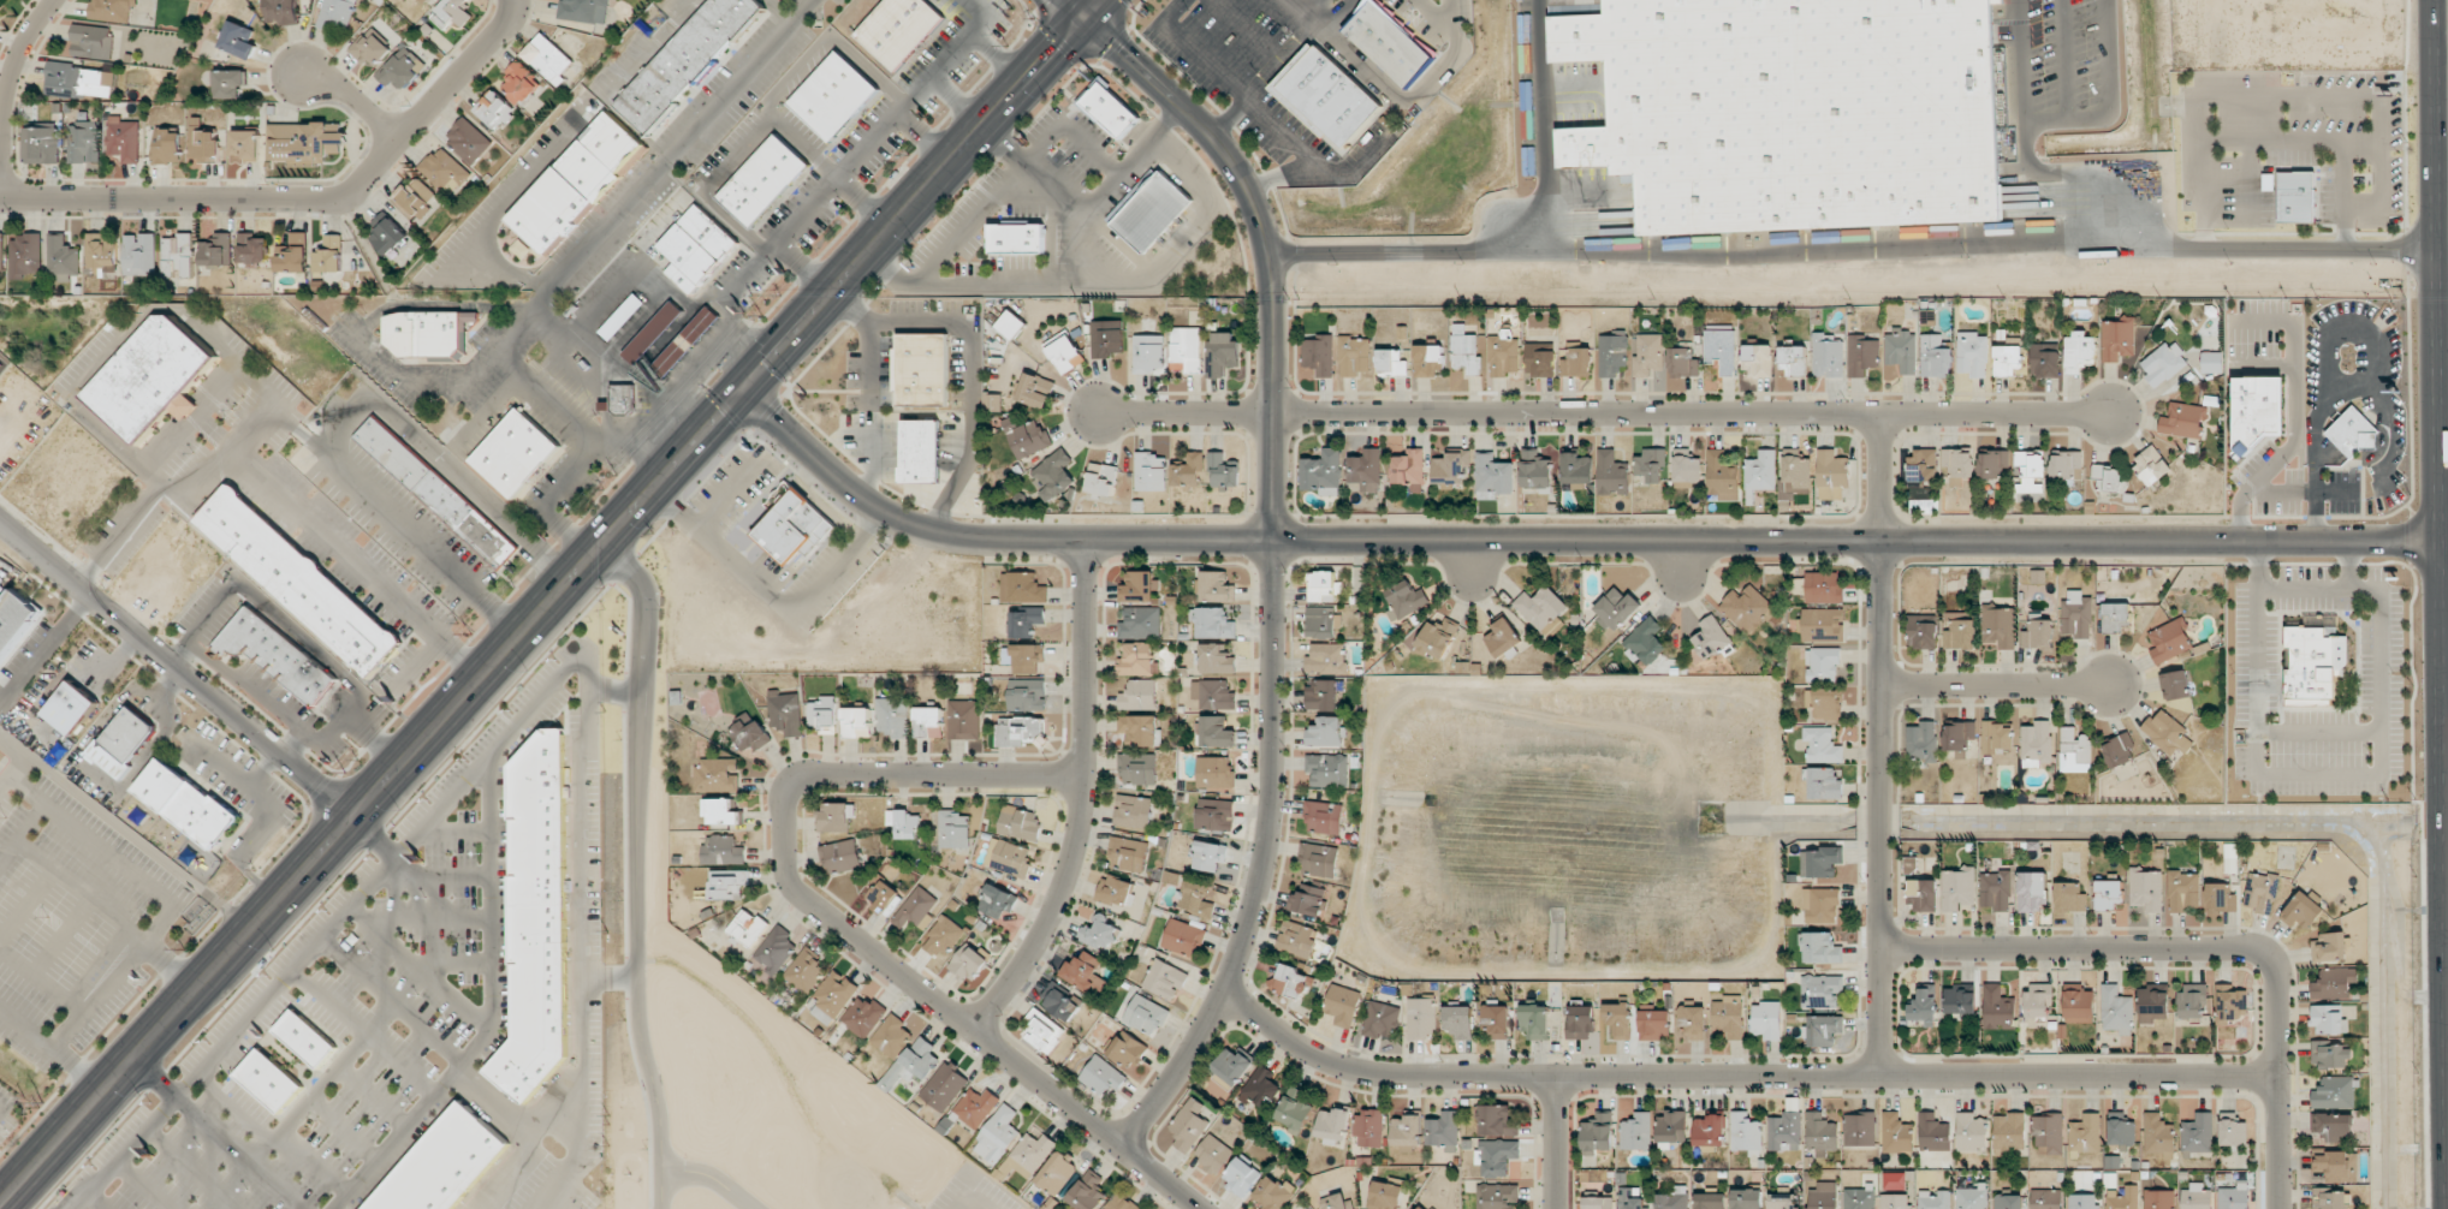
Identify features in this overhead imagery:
building: (424, 1)
road: (800, 4)
road: (2061, 6)
road: (2105, 6)
building: (0, 7)
road: (1074, 7)
road: (1088, 7)
road: (2019, 7)
building: (113, 10)
building: (280, 11)
building: (584, 11)
road: (778, 11)
road: (2084, 12)
building: (452, 13)
building: (337, 14)
traffic signals: (1082, 14)
road: (2040, 14)
building: (898, 29)
building: (239, 40)
building: (93, 41)
building: (1389, 42)
road: (819, 43)
road: (984, 44)
power tower: (1008, 46)
road: (653, 47)
building: (370, 48)
building: (547, 56)
building: (688, 61)
building: (402, 69)
road: (2022, 69)
road: (939, 78)
building: (78, 81)
building: (521, 82)
building: (230, 83)
road: (6, 93)
building: (834, 95)
building: (1327, 96)
road: (355, 101)
road: (2108, 105)
building: (1109, 108)
building: (494, 111)
building: (1793, 111)
road: (1544, 126)
building: (124, 139)
building: (469, 139)
building: (84, 142)
building: (303, 142)
building: (202, 143)
building: (42, 145)
building: (244, 145)
building: (168, 147)
power tower: (909, 154)
road: (824, 168)
building: (445, 169)
road: (2078, 173)
road: (842, 175)
building: (763, 179)
building: (578, 183)
building: (417, 196)
road: (630, 196)
building: (2297, 196)
road: (303, 198)
building: (1151, 209)
road: (492, 214)
road: (733, 222)
road: (659, 227)
building: (1990, 231)
building: (387, 233)
building: (1017, 237)
road: (1267, 242)
building: (696, 248)
building: (252, 249)
building: (216, 250)
road: (1852, 250)
building: (101, 252)
building: (139, 254)
building: (293, 254)
building: (1, 255)
building: (26, 255)
building: (178, 255)
building: (329, 255)
building: (63, 258)
road: (801, 263)
road: (642, 264)
road: (412, 305)
power tower: (762, 314)
building: (622, 316)
building: (1011, 324)
road: (731, 327)
building: (428, 332)
building: (653, 332)
road: (2435, 334)
building: (1106, 338)
building: (2117, 338)
building: (687, 341)
road: (2328, 344)
road: (596, 346)
building: (1187, 347)
building: (1466, 349)
building: (1722, 350)
building: (1902, 350)
building: (2080, 351)
building: (1064, 352)
building: (1149, 353)
building: (1223, 353)
building: (1612, 353)
building: (1972, 353)
building: (1319, 355)
building: (1503, 355)
building: (1648, 355)
building: (1862, 355)
building: (1355, 356)
building: (1828, 356)
building: (1935, 357)
building: (1540, 359)
building: (2045, 359)
building: (1428, 361)
building: (1758, 361)
building: (1793, 361)
building: (2008, 361)
building: (1392, 362)
building: (1576, 362)
building: (2211, 362)
building: (1683, 363)
building: (2163, 363)
building: (922, 369)
road: (417, 375)
building: (153, 377)
traffic signals: (743, 391)
building: (1035, 391)
road: (666, 398)
building: (623, 399)
building: (993, 403)
road: (487, 411)
building: (2257, 411)
road: (2293, 412)
road: (1604, 413)
building: (2183, 421)
building: (2353, 433)
road: (2393, 433)
building: (1026, 437)
road: (630, 441)
road: (580, 448)
building: (921, 451)
building: (515, 453)
building: (1992, 463)
building: (1651, 464)
building: (1924, 464)
building: (2151, 464)
building: (1408, 466)
building: (1450, 467)
building: (1576, 467)
building: (1366, 469)
building: (1686, 469)
building: (1535, 470)
building: (1763, 470)
building: (2031, 470)
building: (1189, 471)
building: (1151, 472)
building: (1323, 472)
power tower: (616, 474)
building: (1611, 474)
building: (1832, 475)
building: (1054, 476)
building: (1796, 476)
building: (1492, 477)
building: (1723, 477)
building: (2109, 477)
building: (1103, 478)
road: (2303, 492)
building: (436, 494)
building: (779, 496)
building: (795, 528)
road: (1565, 541)
road: (2348, 564)
building: (298, 580)
building: (1139, 586)
building: (1217, 586)
building: (1324, 586)
building: (1824, 586)
power tower: (513, 588)
building: (1023, 588)
building: (1406, 600)
building: (1540, 607)
building: (1616, 609)
building: (1747, 609)
road: (542, 611)
building: (2076, 614)
building: (2116, 618)
building: (1026, 621)
building: (1321, 621)
building: (16, 623)
building: (1141, 623)
building: (1214, 624)
building: (1823, 625)
building: (1998, 625)
power tower: (471, 631)
building: (1921, 631)
building: (1960, 631)
building: (2037, 635)
building: (1438, 636)
building: (1503, 637)
building: (1711, 638)
building: (1646, 641)
building: (2169, 641)
building: (280, 656)
building: (1027, 657)
building: (1214, 659)
building: (1326, 659)
building: (1823, 663)
building: (2313, 663)
road: (176, 673)
building: (2176, 685)
road: (1998, 686)
road: (611, 693)
building: (1213, 693)
building: (1027, 695)
building: (1140, 695)
building: (1323, 695)
road: (2444, 697)
building: (1824, 702)
building: (72, 707)
building: (785, 713)
building: (824, 714)
building: (893, 716)
building: (927, 720)
building: (964, 720)
building: (856, 722)
building: (1141, 729)
road: (2318, 729)
building: (1020, 731)
building: (1217, 732)
building: (1326, 732)
building: (749, 734)
building: (2168, 734)
building: (1997, 737)
building: (1959, 738)
building: (123, 742)
building: (1923, 743)
building: (2037, 743)
building: (1823, 745)
road: (1879, 745)
building: (2119, 750)
building: (2075, 751)
road: (637, 754)
building: (1139, 768)
building: (1327, 769)
power tower: (345, 772)
road: (581, 772)
building: (1214, 773)
building: (717, 775)
road: (2354, 776)
building: (1825, 784)
road: (1082, 799)
building: (186, 803)
building: (721, 811)
building: (1134, 811)
road: (439, 812)
building: (1214, 814)
building: (836, 816)
building: (1324, 816)
building: (1020, 822)
road: (129, 823)
building: (905, 823)
building: (955, 829)
road: (374, 839)
building: (723, 850)
building: (1129, 854)
building: (842, 856)
building: (1208, 856)
building: (1011, 858)
building: (2230, 858)
building: (1318, 859)
road: (1264, 862)
building: (1820, 862)
building: (726, 885)
building: (1957, 888)
building: (2146, 889)
building: (1116, 891)
building: (1996, 891)
building: (2032, 891)
building: (2183, 891)
building: (2262, 892)
building: (2109, 894)
building: (1923, 895)
building: (884, 897)
building: (2069, 897)
building: (1196, 898)
building: (2220, 898)
building: (998, 900)
building: (1308, 900)
building: (1822, 905)
building: (916, 909)
building: (2301, 911)
building: (537, 919)
road: (840, 925)
building: (747, 928)
building: (1100, 933)
building: (943, 937)
building: (1183, 937)
building: (1297, 939)
road: (2442, 939)
building: (2330, 947)
power tower: (184, 948)
building: (1820, 948)
road: (2203, 949)
building: (776, 951)
building: (969, 961)
building: (806, 970)
building: (1085, 971)
building: (1164, 979)
building: (1294, 982)
building: (2334, 983)
building: (833, 996)
park: (719, 999)
building: (2038, 1000)
building: (2193, 1001)
building: (2153, 1002)
building: (1063, 1003)
building: (1961, 1003)
building: (1343, 1005)
building: (1924, 1006)
building: (2079, 1006)
building: (2232, 1006)
building: (1998, 1008)
building: (2116, 1010)
building: (1146, 1014)
building: (863, 1016)
building: (1730, 1016)
building: (1421, 1018)
building: (1382, 1019)
building: (1618, 1019)
building: (2328, 1019)
building: (1767, 1020)
building: (1458, 1022)
building: (1495, 1022)
building: (1535, 1022)
building: (1580, 1022)
building: (1692, 1023)
building: (1654, 1024)
building: (1044, 1030)
building: (1824, 1030)
building: (891, 1036)
building: (308, 1037)
building: (1128, 1049)
building: (2330, 1055)
building: (913, 1062)
building: (1232, 1066)
road: (155, 1076)
building: (1103, 1076)
road: (1741, 1078)
building: (269, 1079)
building: (945, 1086)
building: (1261, 1088)
road: (654, 1092)
building: (2335, 1092)
road: (578, 1098)
power tower: (42, 1103)
building: (976, 1107)
building: (1294, 1109)
building: (1497, 1120)
building: (1332, 1124)
building: (1189, 1125)
building: (2335, 1126)
building: (1368, 1127)
building: (1671, 1128)
building: (1860, 1128)
building: (1710, 1130)
building: (1443, 1131)
building: (1786, 1131)
building: (1636, 1132)
building: (1745, 1132)
building: (1820, 1132)
building: (1896, 1132)
building: (1933, 1132)
building: (1971, 1132)
building: (2009, 1132)
building: (2121, 1132)
building: (2234, 1132)
building: (1598, 1133)
building: (2048, 1133)
building: (2085, 1133)
building: (2158, 1134)
building: (2198, 1134)
building: (998, 1136)
road: (1557, 1144)
building: (1213, 1154)
building: (1030, 1155)
building: (1498, 1157)
building: (445, 1163)
building: (2336, 1166)
building: (1058, 1173)
building: (1242, 1175)
road: (713, 1178)
building: (1895, 1180)
building: (1088, 1192)
building: (1274, 1193)
building: (1385, 1196)
building: (1497, 1196)
building: (1822, 1196)
building: (1860, 1197)
building: (1972, 1197)
building: (2196, 1197)
building: (2234, 1197)
building: (1632, 1198)
building: (1674, 1198)
building: (1747, 1198)
building: (2046, 1198)
building: (2123, 1198)
building: (2330, 1198)
building: (1933, 1199)
building: (2159, 1199)
building: (1338, 1201)
building: (1710, 1201)
building: (1784, 1201)
building: (1896, 1201)
road: (978, 1202)
building: (1122, 1202)
building: (1599, 1202)
building: (2009, 1202)
building: (2082, 1202)
building: (1421, 1208)

